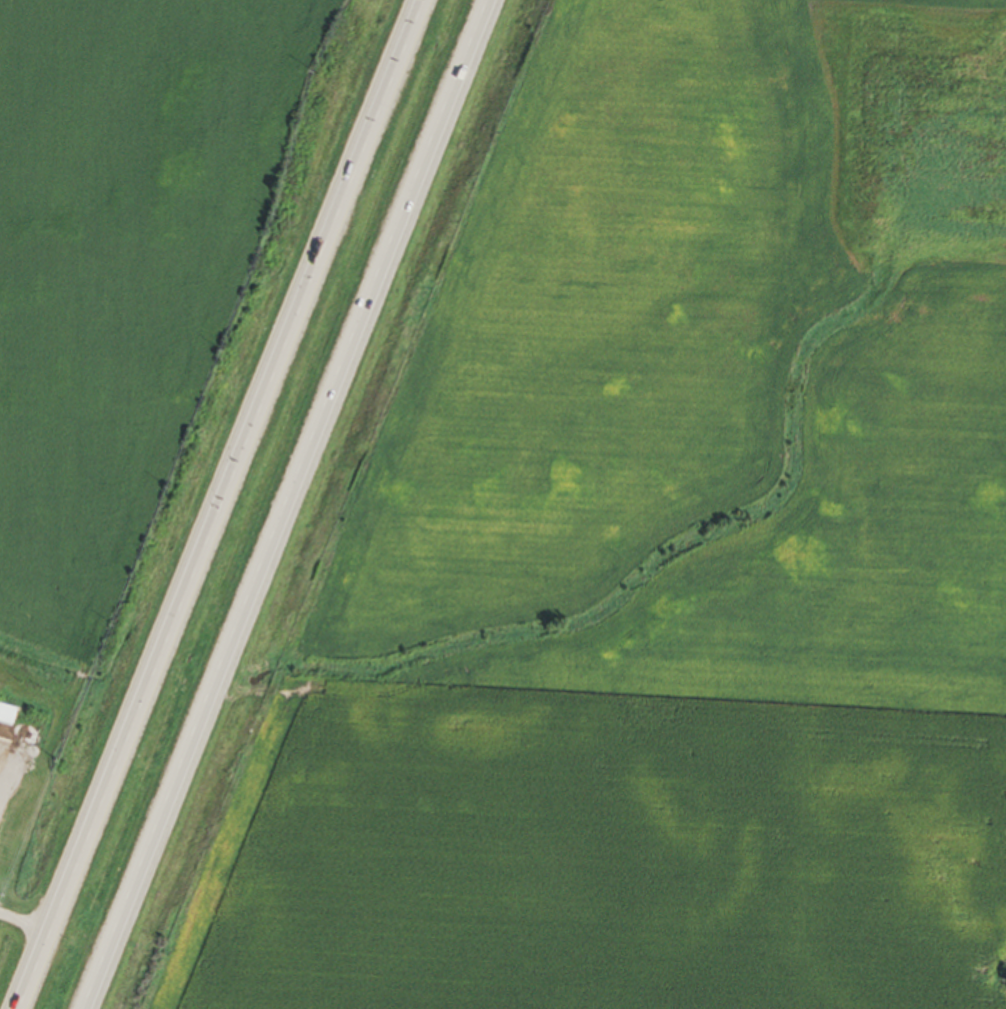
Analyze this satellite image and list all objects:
road: (285, 504)
road: (213, 505)
building: (5, 716)
road: (1, 779)
road: (20, 924)

